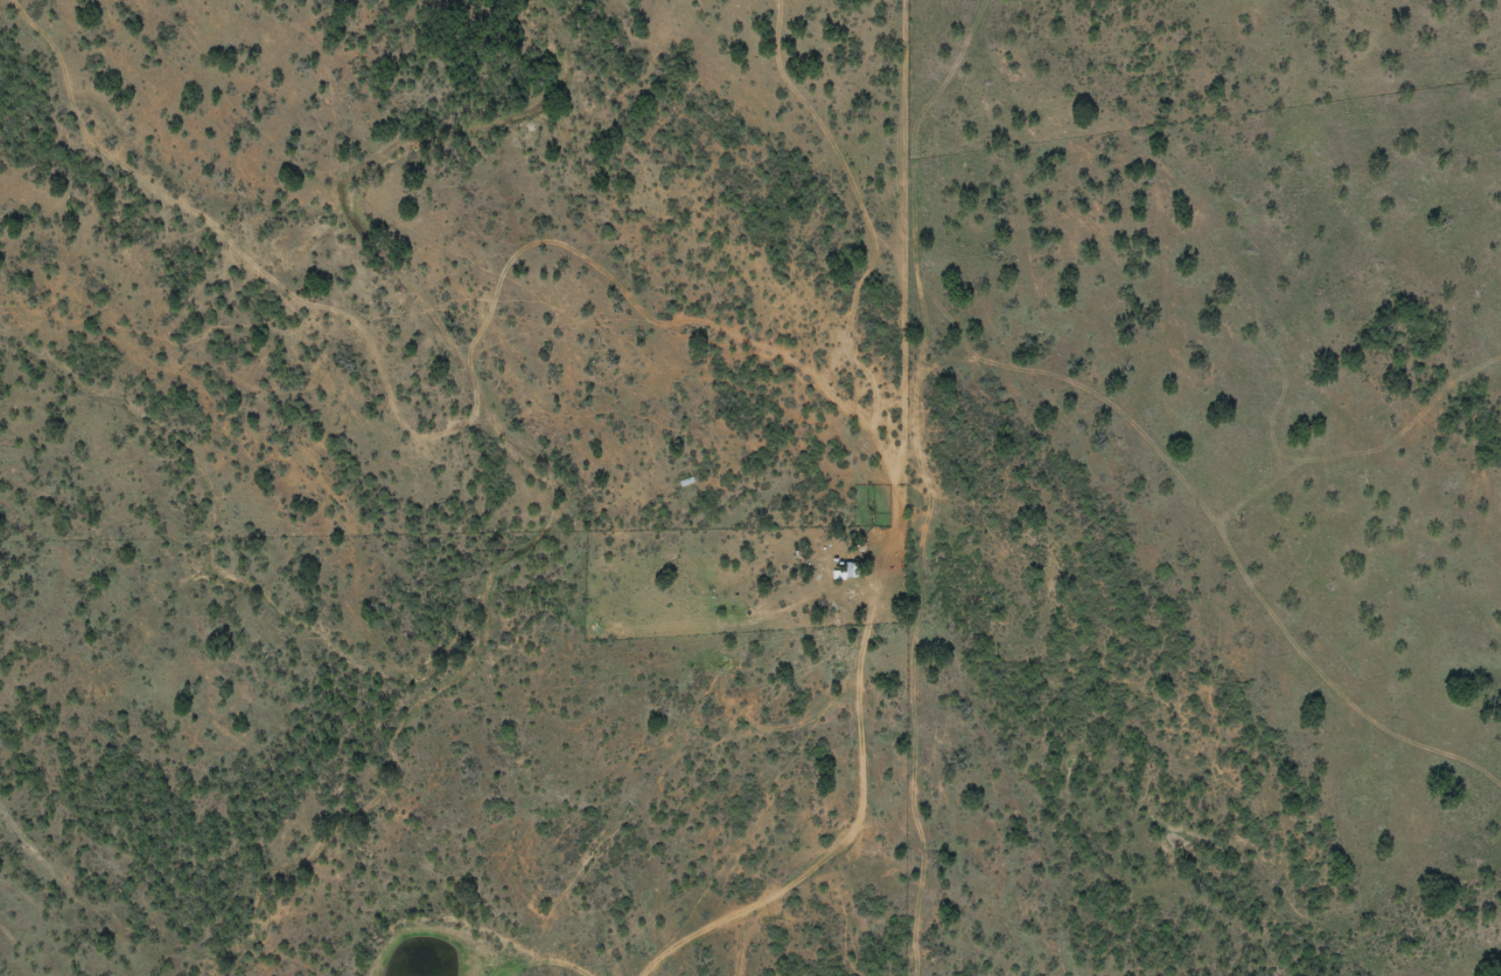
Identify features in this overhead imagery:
road: (894, 517)

